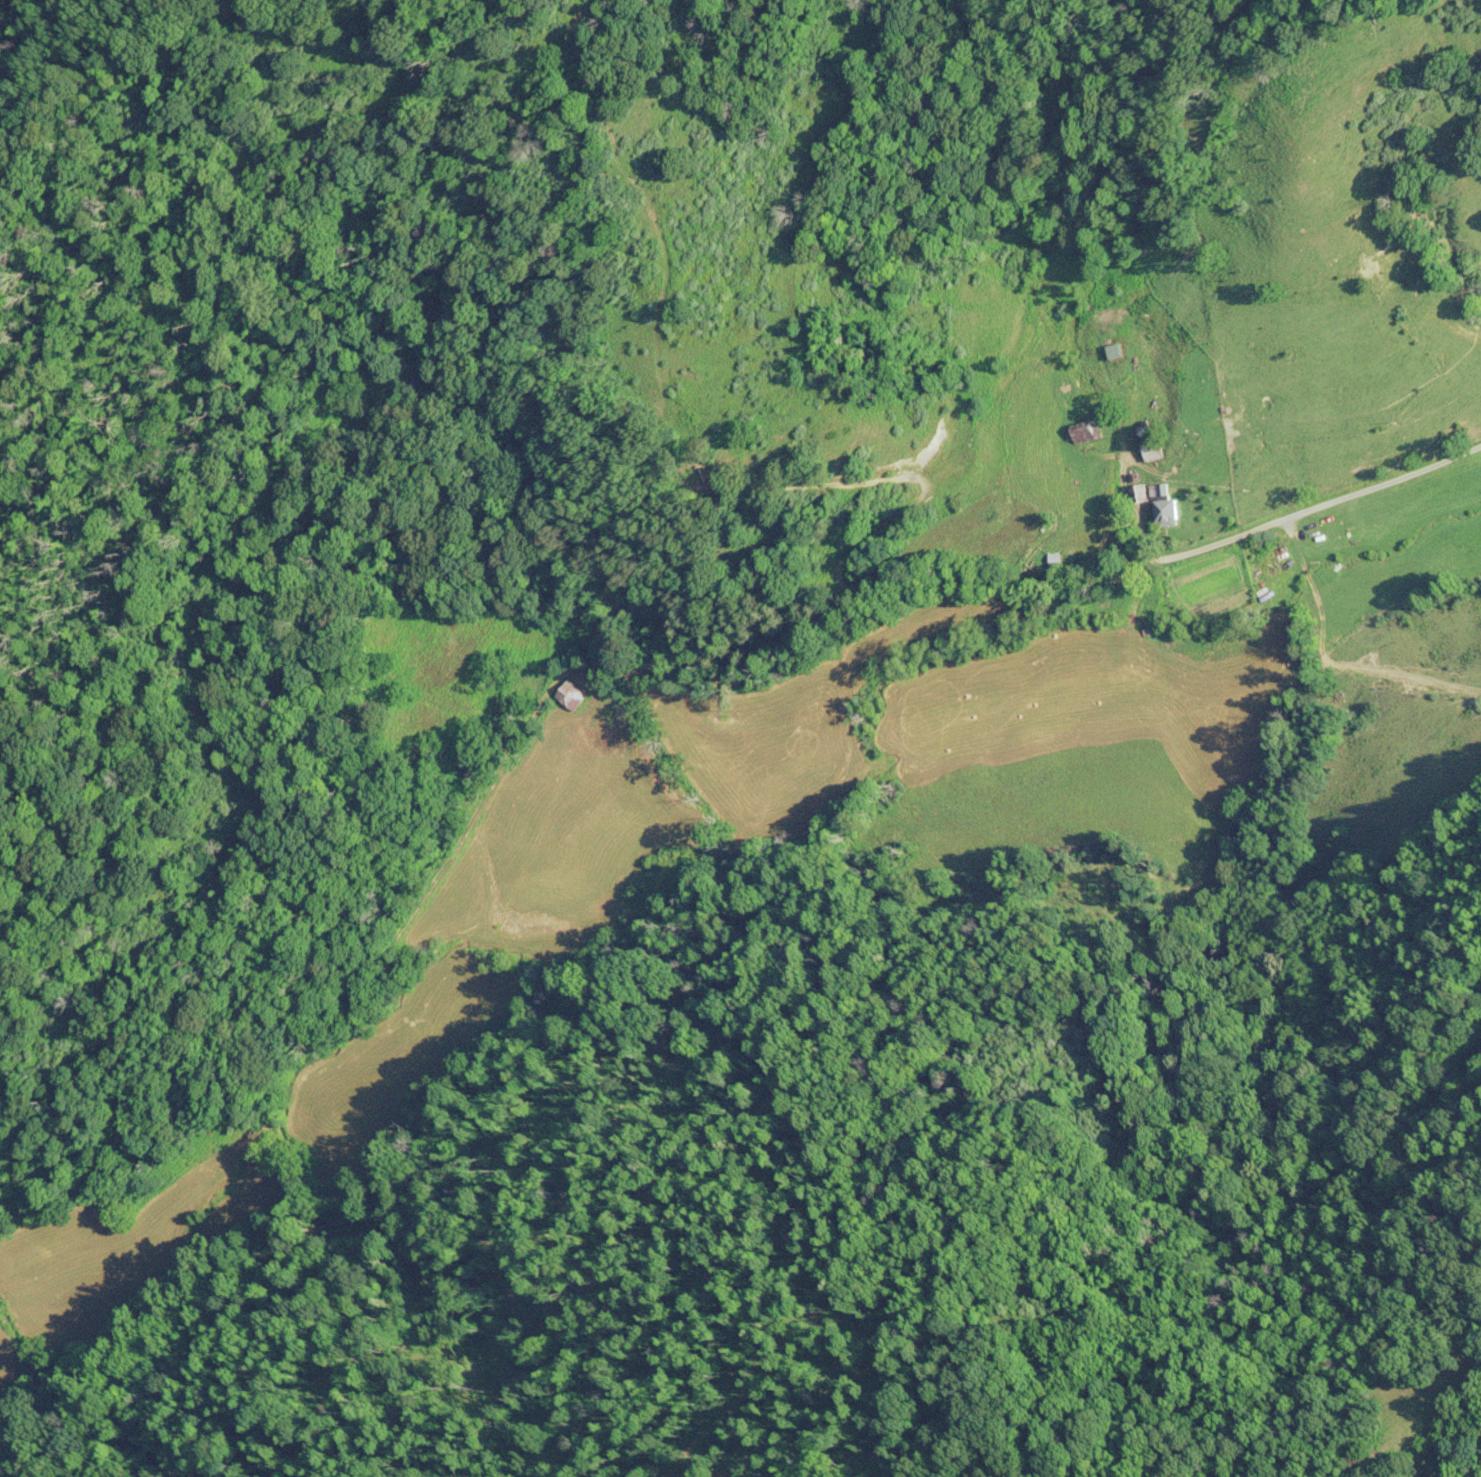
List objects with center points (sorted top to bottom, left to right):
building: (1117, 353)
building: (1083, 433)
building: (1152, 451)
building: (1140, 495)
building: (1166, 508)
building: (1058, 560)
road: (687, 662)
building: (571, 697)
building: (463, 761)
road: (131, 1373)

